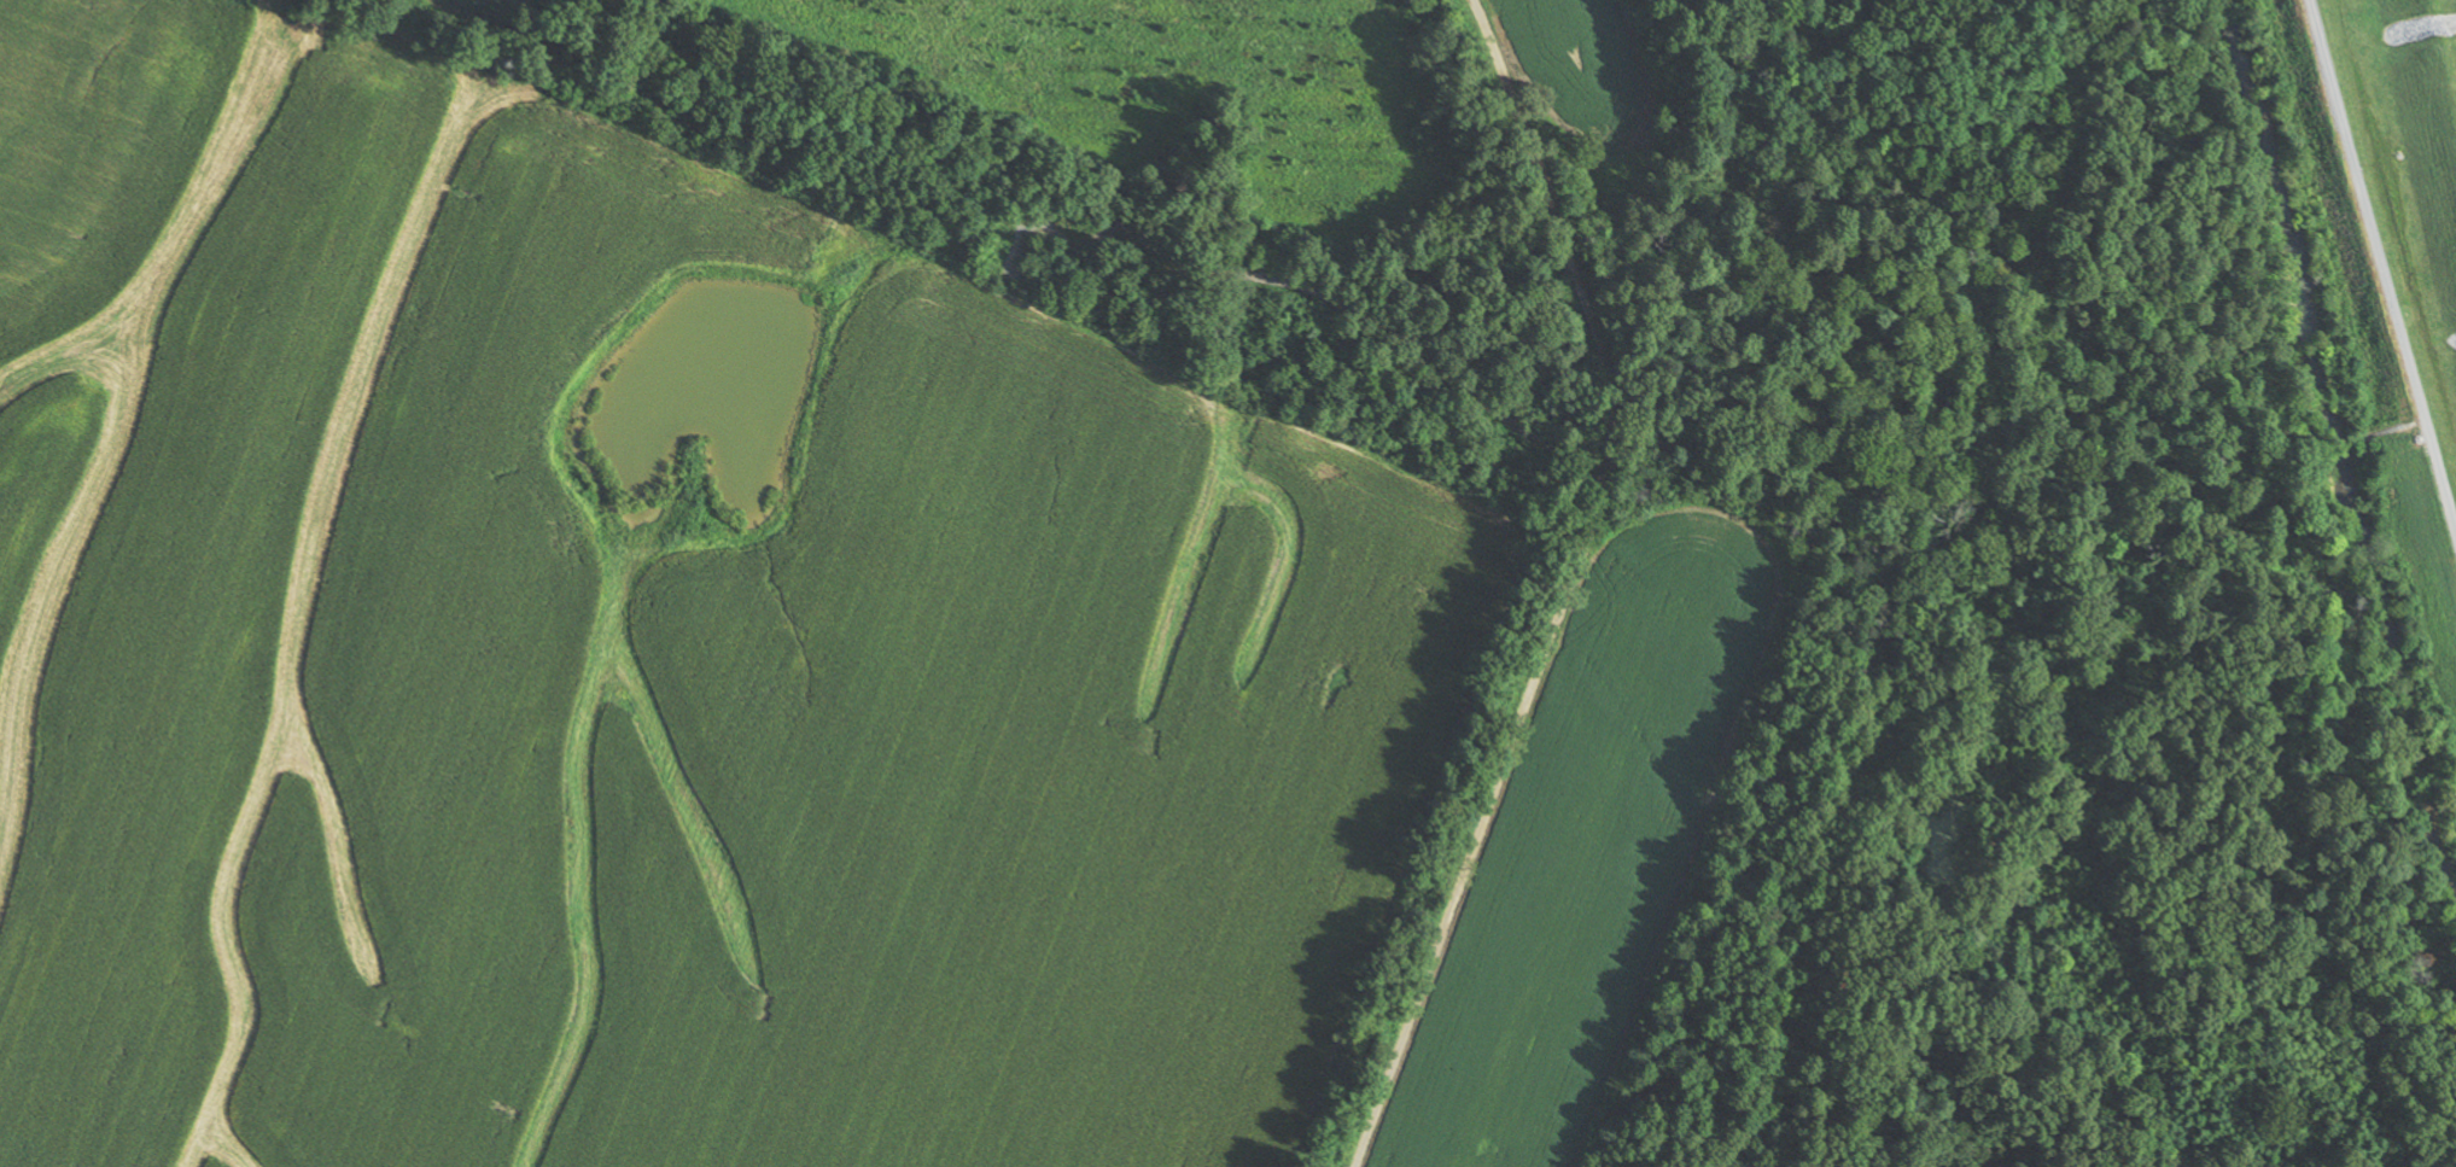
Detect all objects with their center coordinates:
road: (2387, 264)

